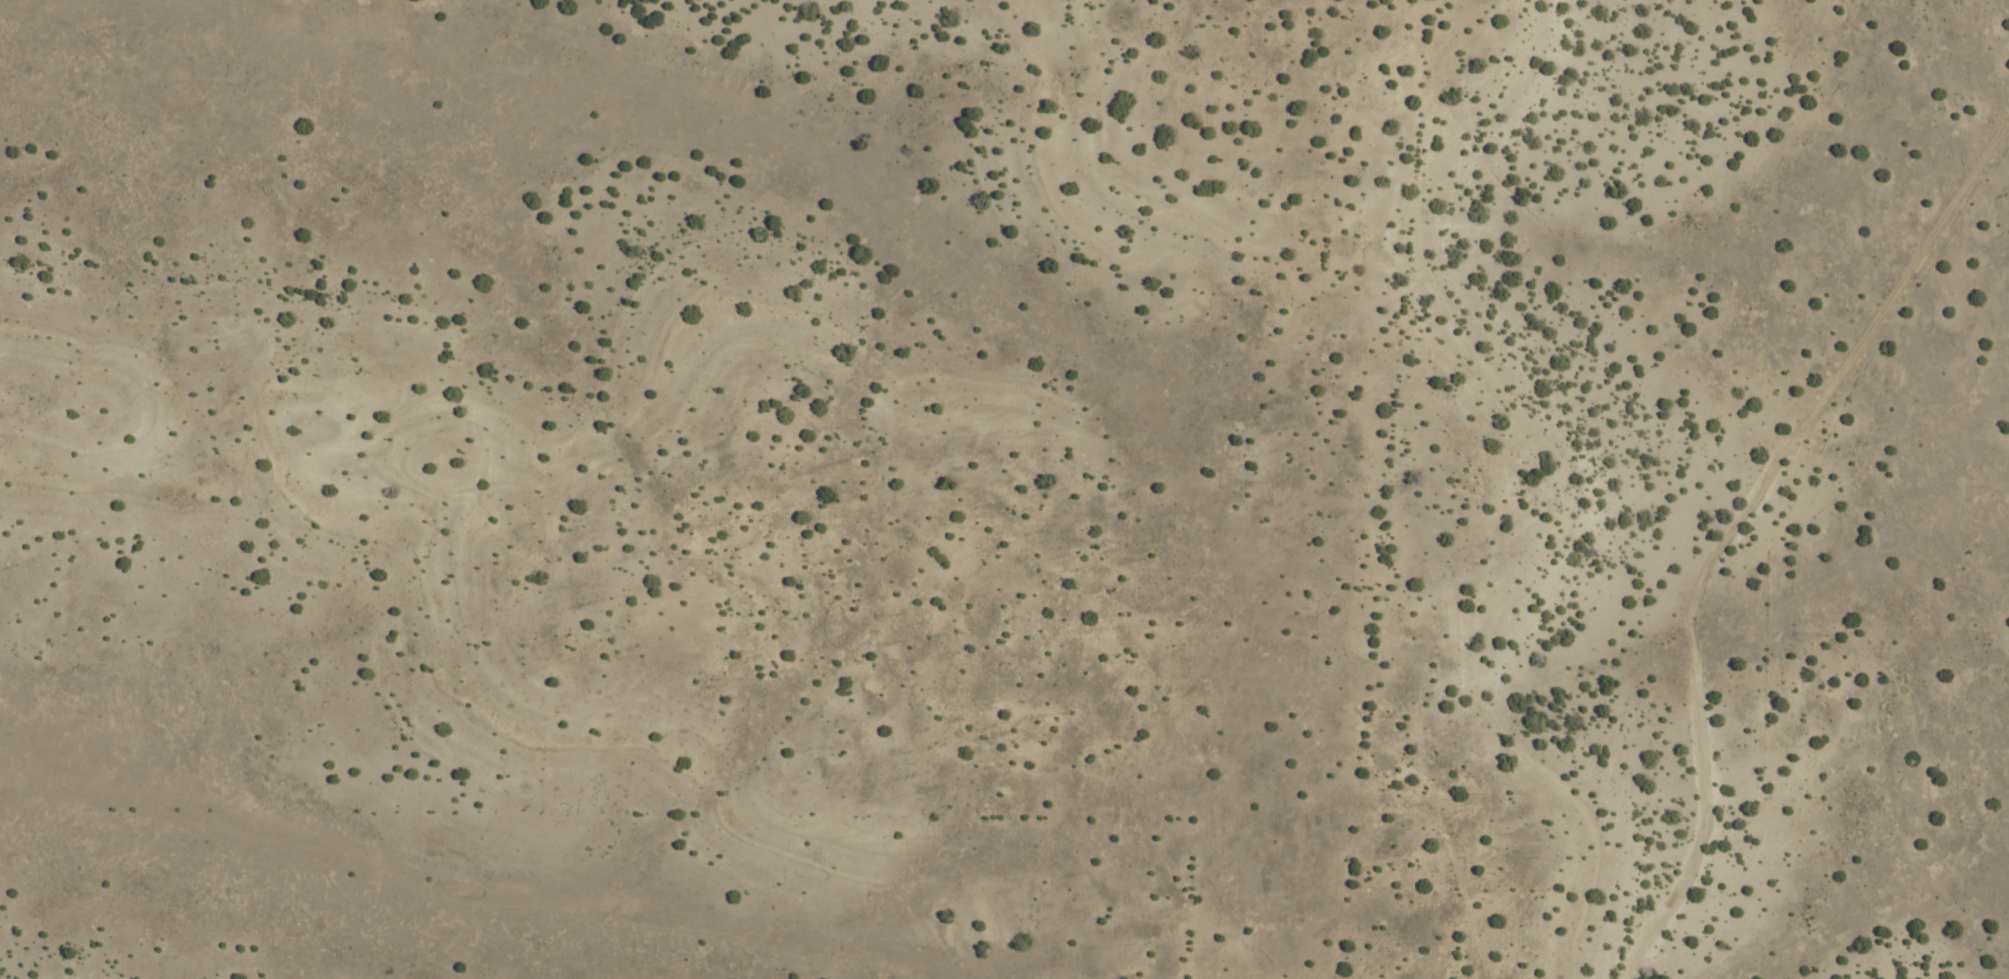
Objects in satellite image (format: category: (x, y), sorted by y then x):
road: (1994, 32)

